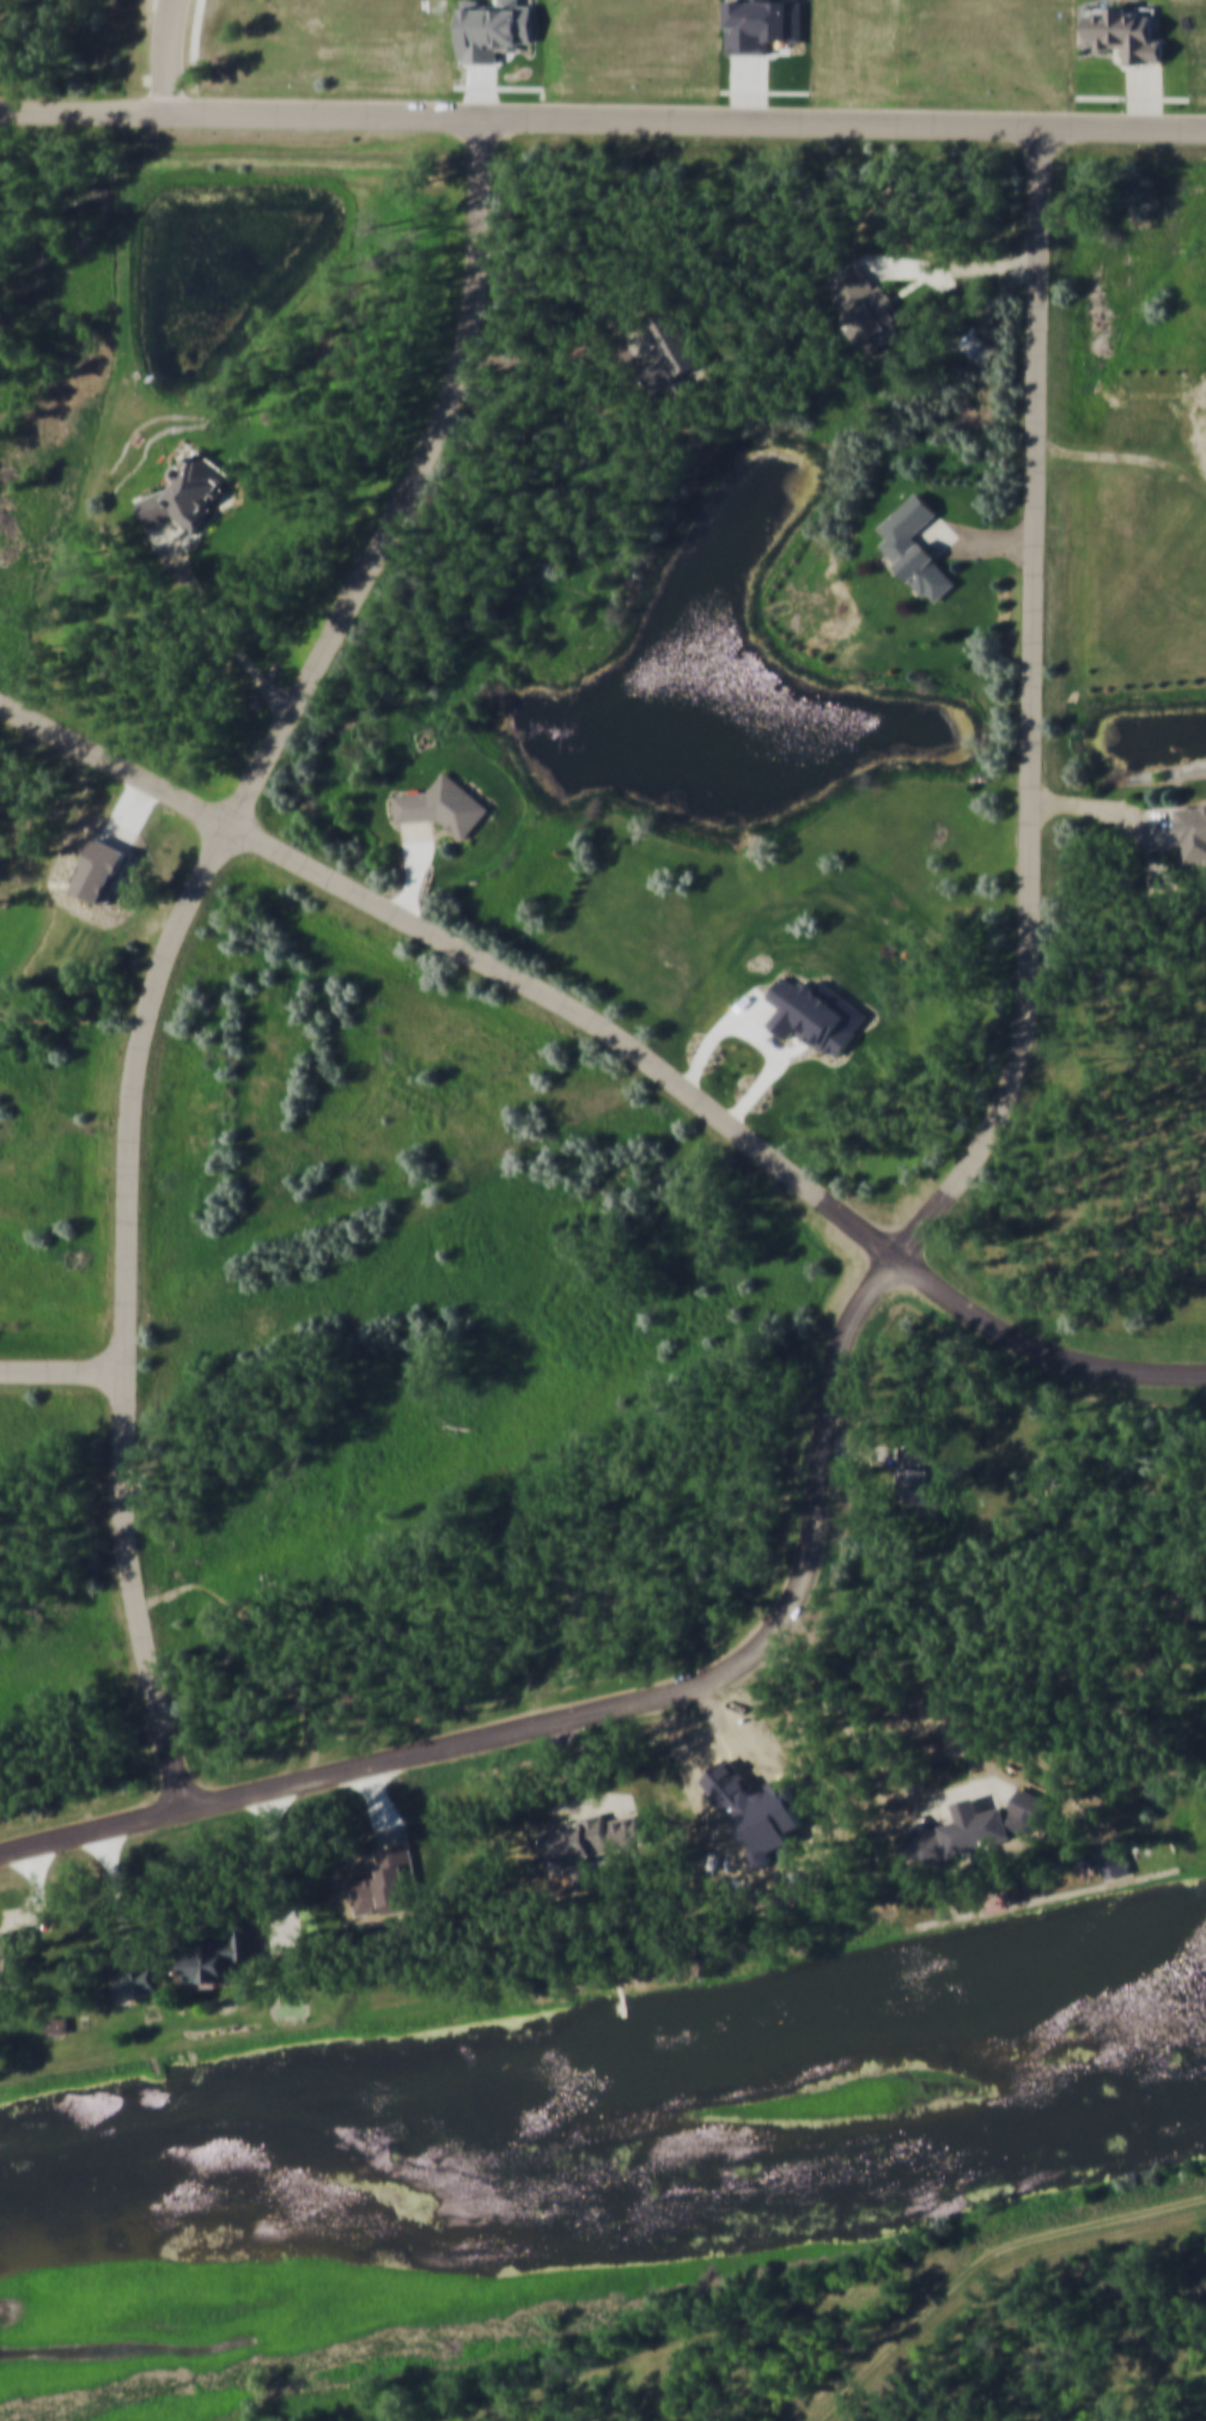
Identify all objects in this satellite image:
building: (765, 28)
building: (1131, 38)
road: (171, 53)
road: (195, 65)
road: (1133, 98)
road: (1147, 99)
road: (603, 118)
road: (956, 270)
building: (866, 302)
building: (674, 347)
road: (566, 358)
building: (194, 489)
road: (976, 542)
building: (914, 545)
road: (223, 621)
building: (449, 804)
road: (1105, 809)
building: (1193, 827)
road: (416, 868)
road: (176, 935)
road: (616, 1035)
road: (943, 1206)
road: (65, 1375)
road: (861, 1452)
building: (913, 1471)
road: (578, 1787)
road: (919, 1797)
road: (382, 1808)
building: (975, 1827)
road: (92, 1832)
building: (596, 1838)
building: (1113, 1860)
road: (266, 1880)
building: (392, 1885)
road: (287, 1892)
road: (39, 1893)
road: (118, 1899)
building: (16, 1954)
building: (231, 1954)
building: (142, 1981)
river: (803, 2013)
building: (59, 2025)
river: (592, 2189)
road: (981, 2263)

